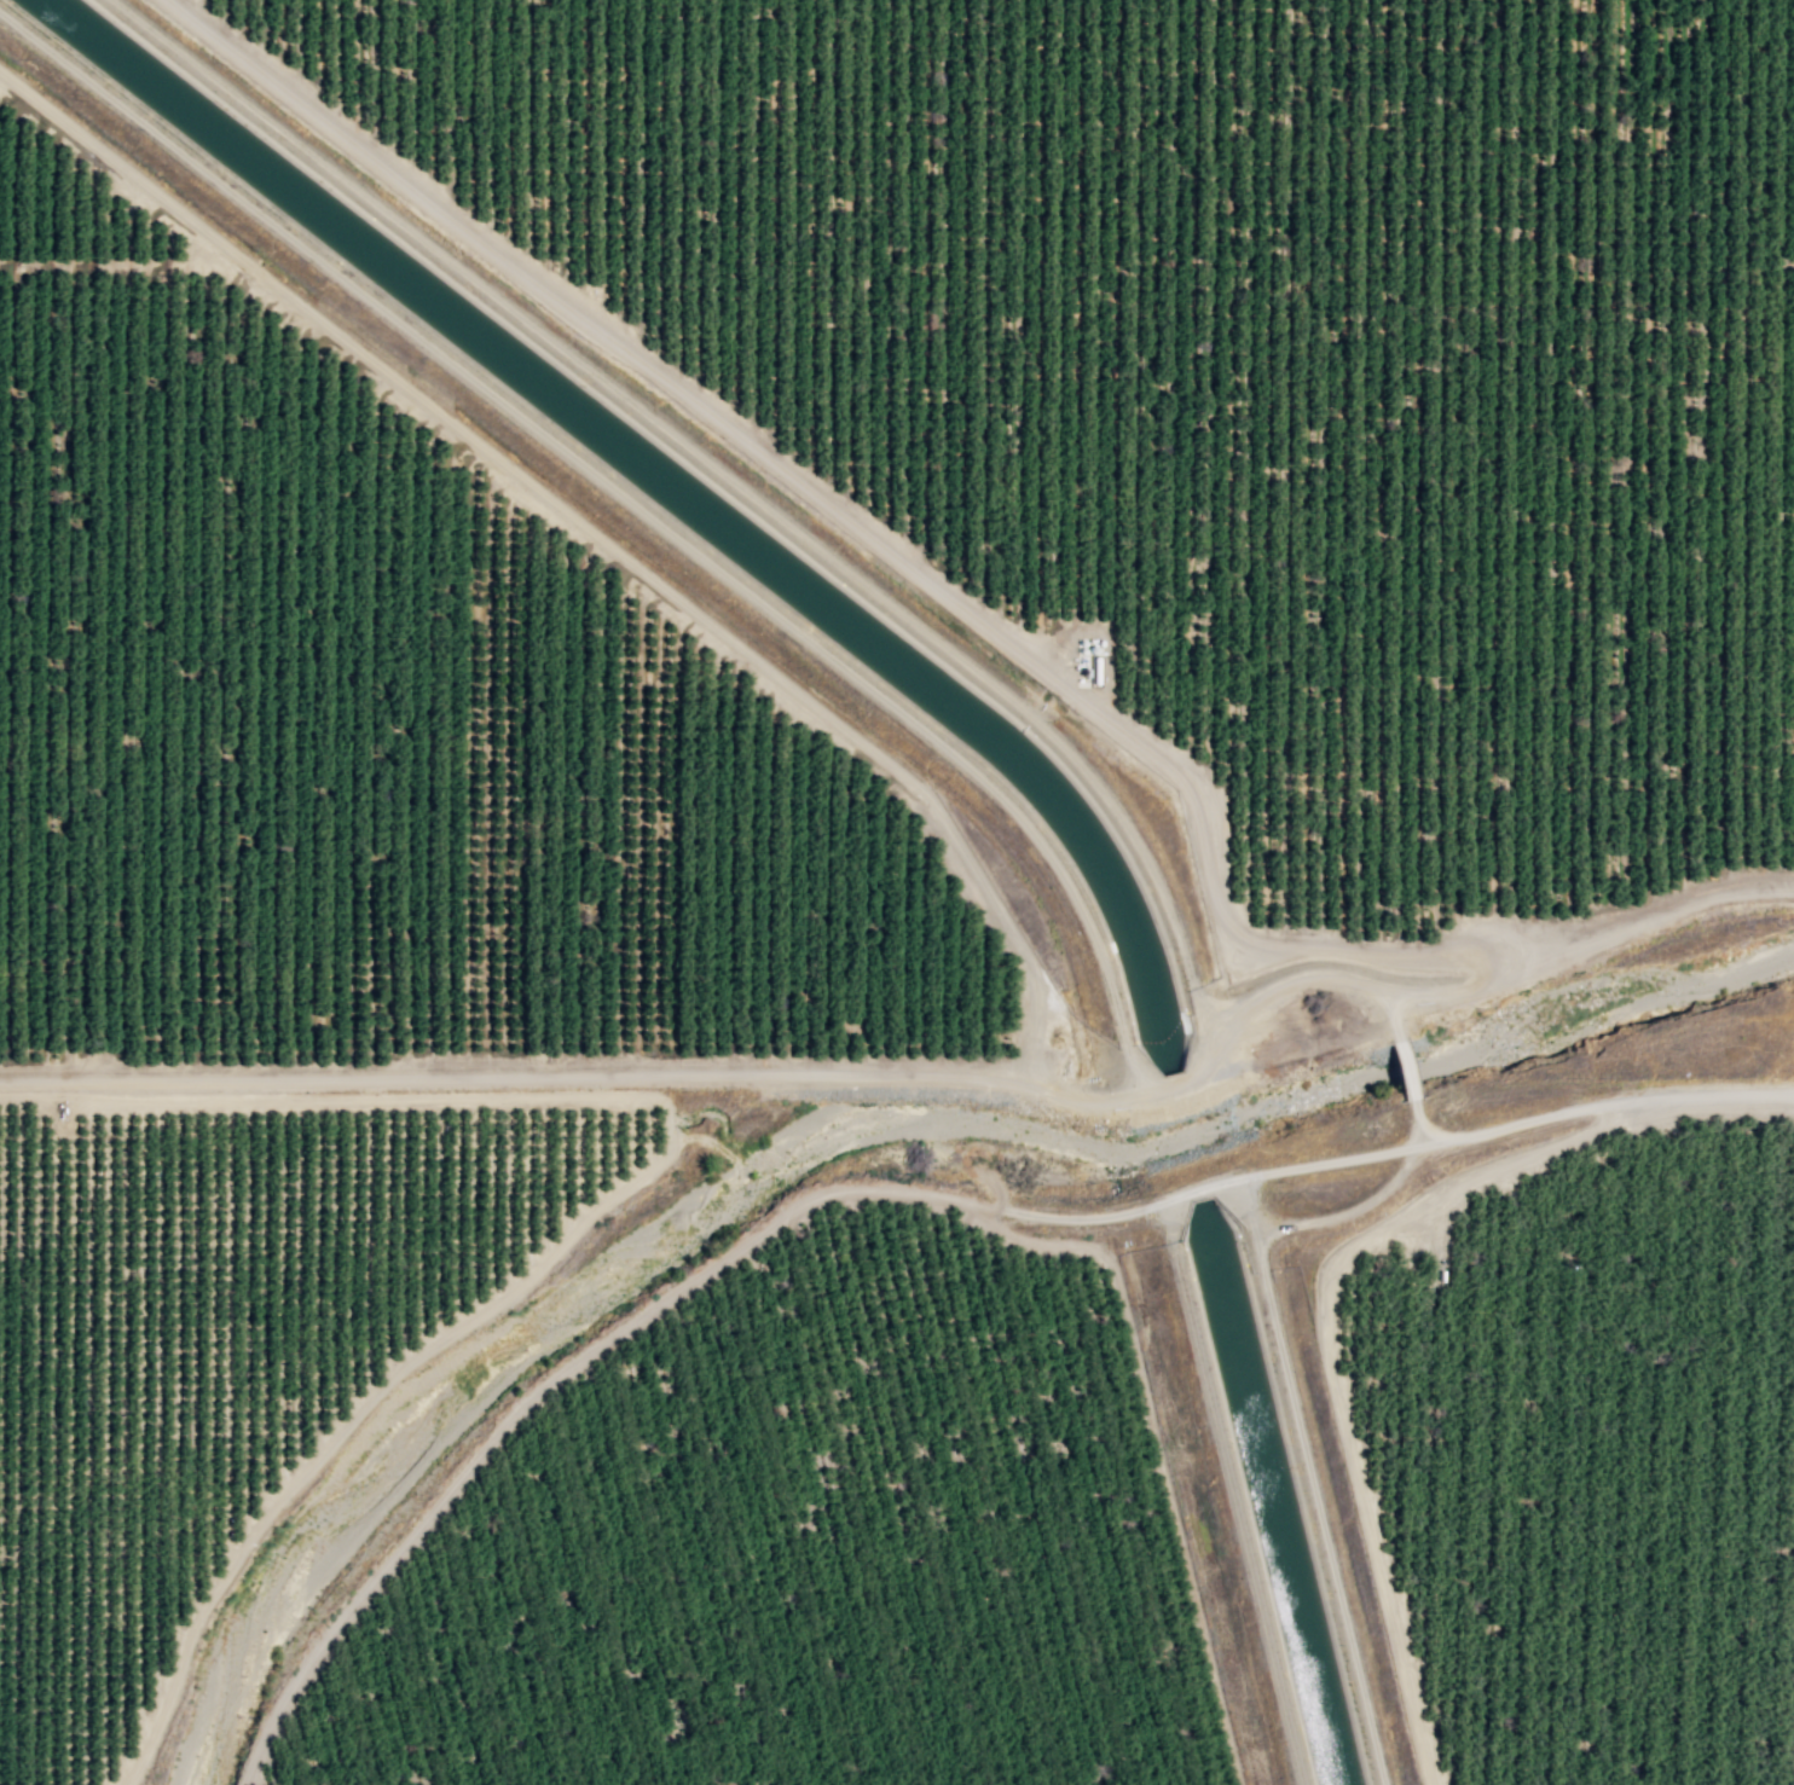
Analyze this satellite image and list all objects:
road: (636, 508)
road: (847, 521)
road: (589, 532)
road: (1580, 950)
road: (1401, 1071)
road: (739, 1074)
road: (1425, 1128)
road: (896, 1190)
road: (615, 1194)
road: (1249, 1215)
road: (1331, 1345)
road: (1294, 1424)
road: (1229, 1491)

